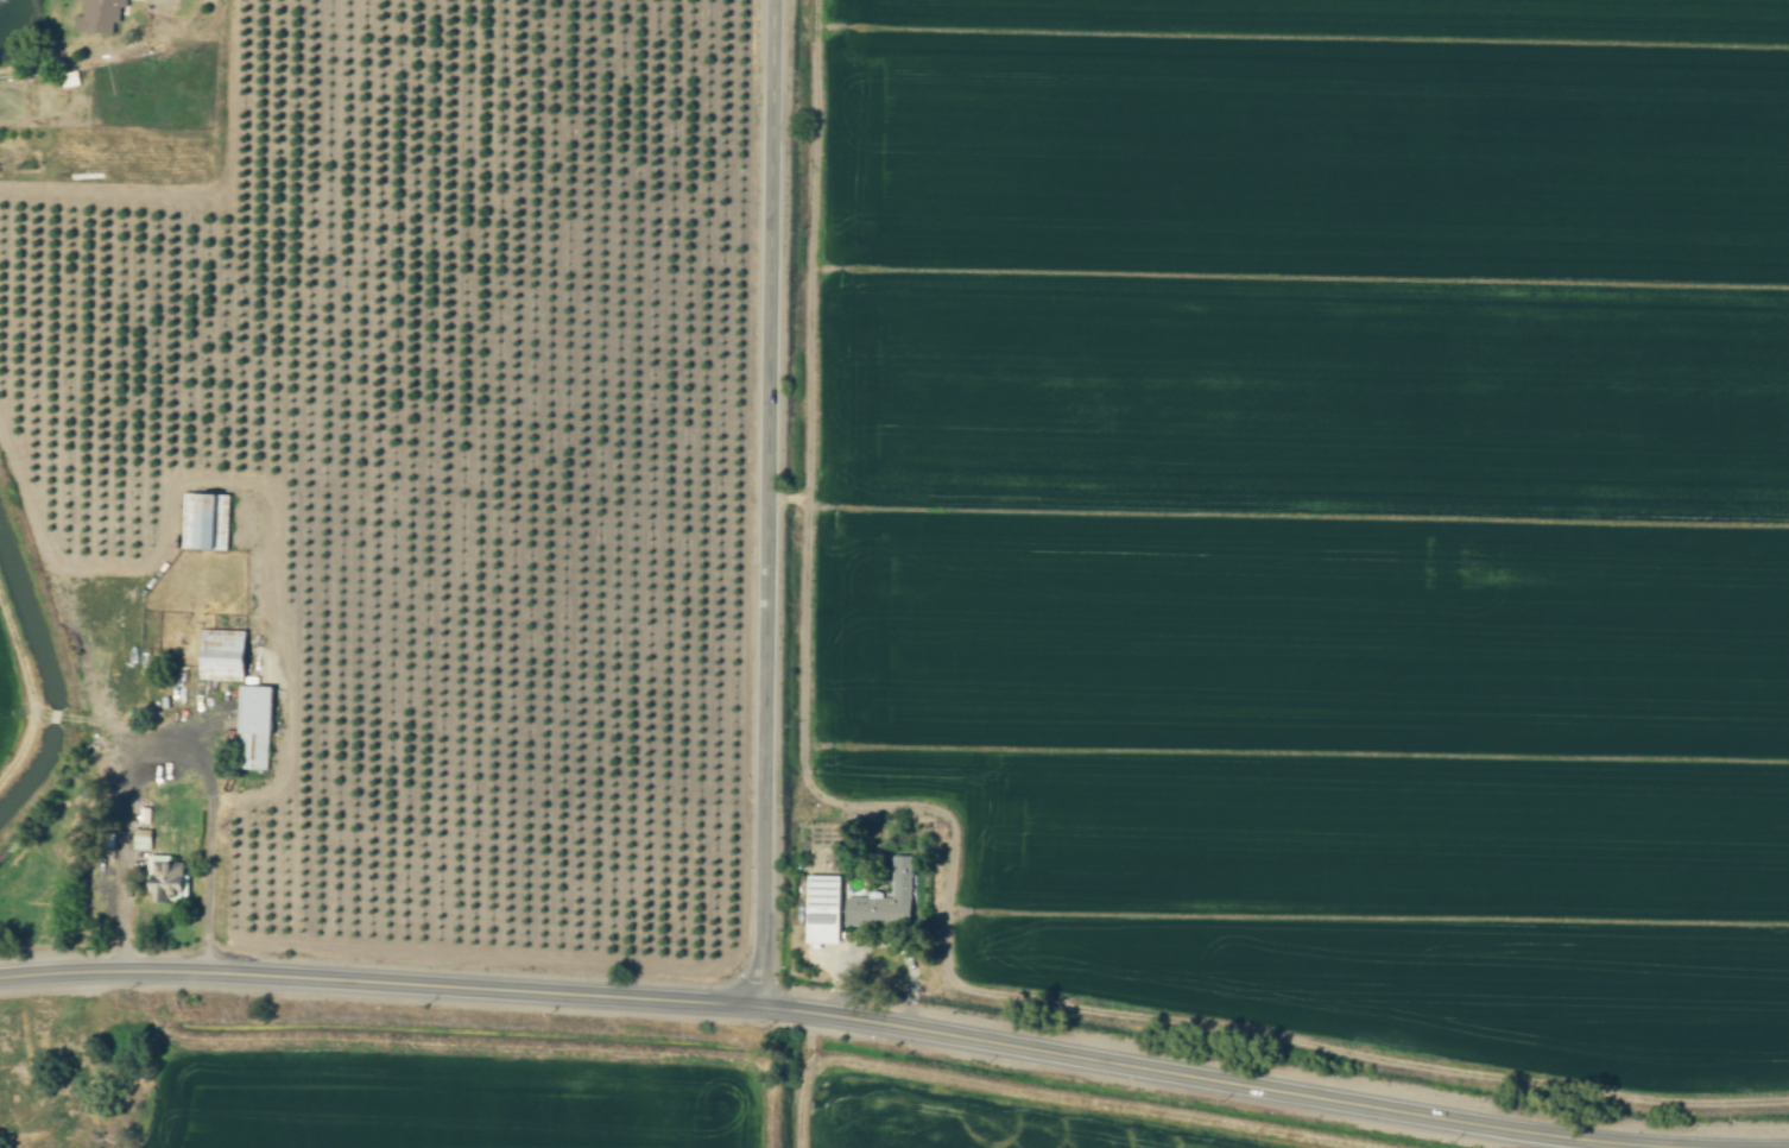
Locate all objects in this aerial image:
building: (102, 15)
building: (71, 80)
road: (775, 505)
building: (209, 522)
building: (226, 656)
building: (259, 723)
road: (170, 744)
building: (169, 881)
building: (887, 900)
building: (827, 909)
road: (880, 952)
road: (785, 1011)
crop: (442, 1085)

